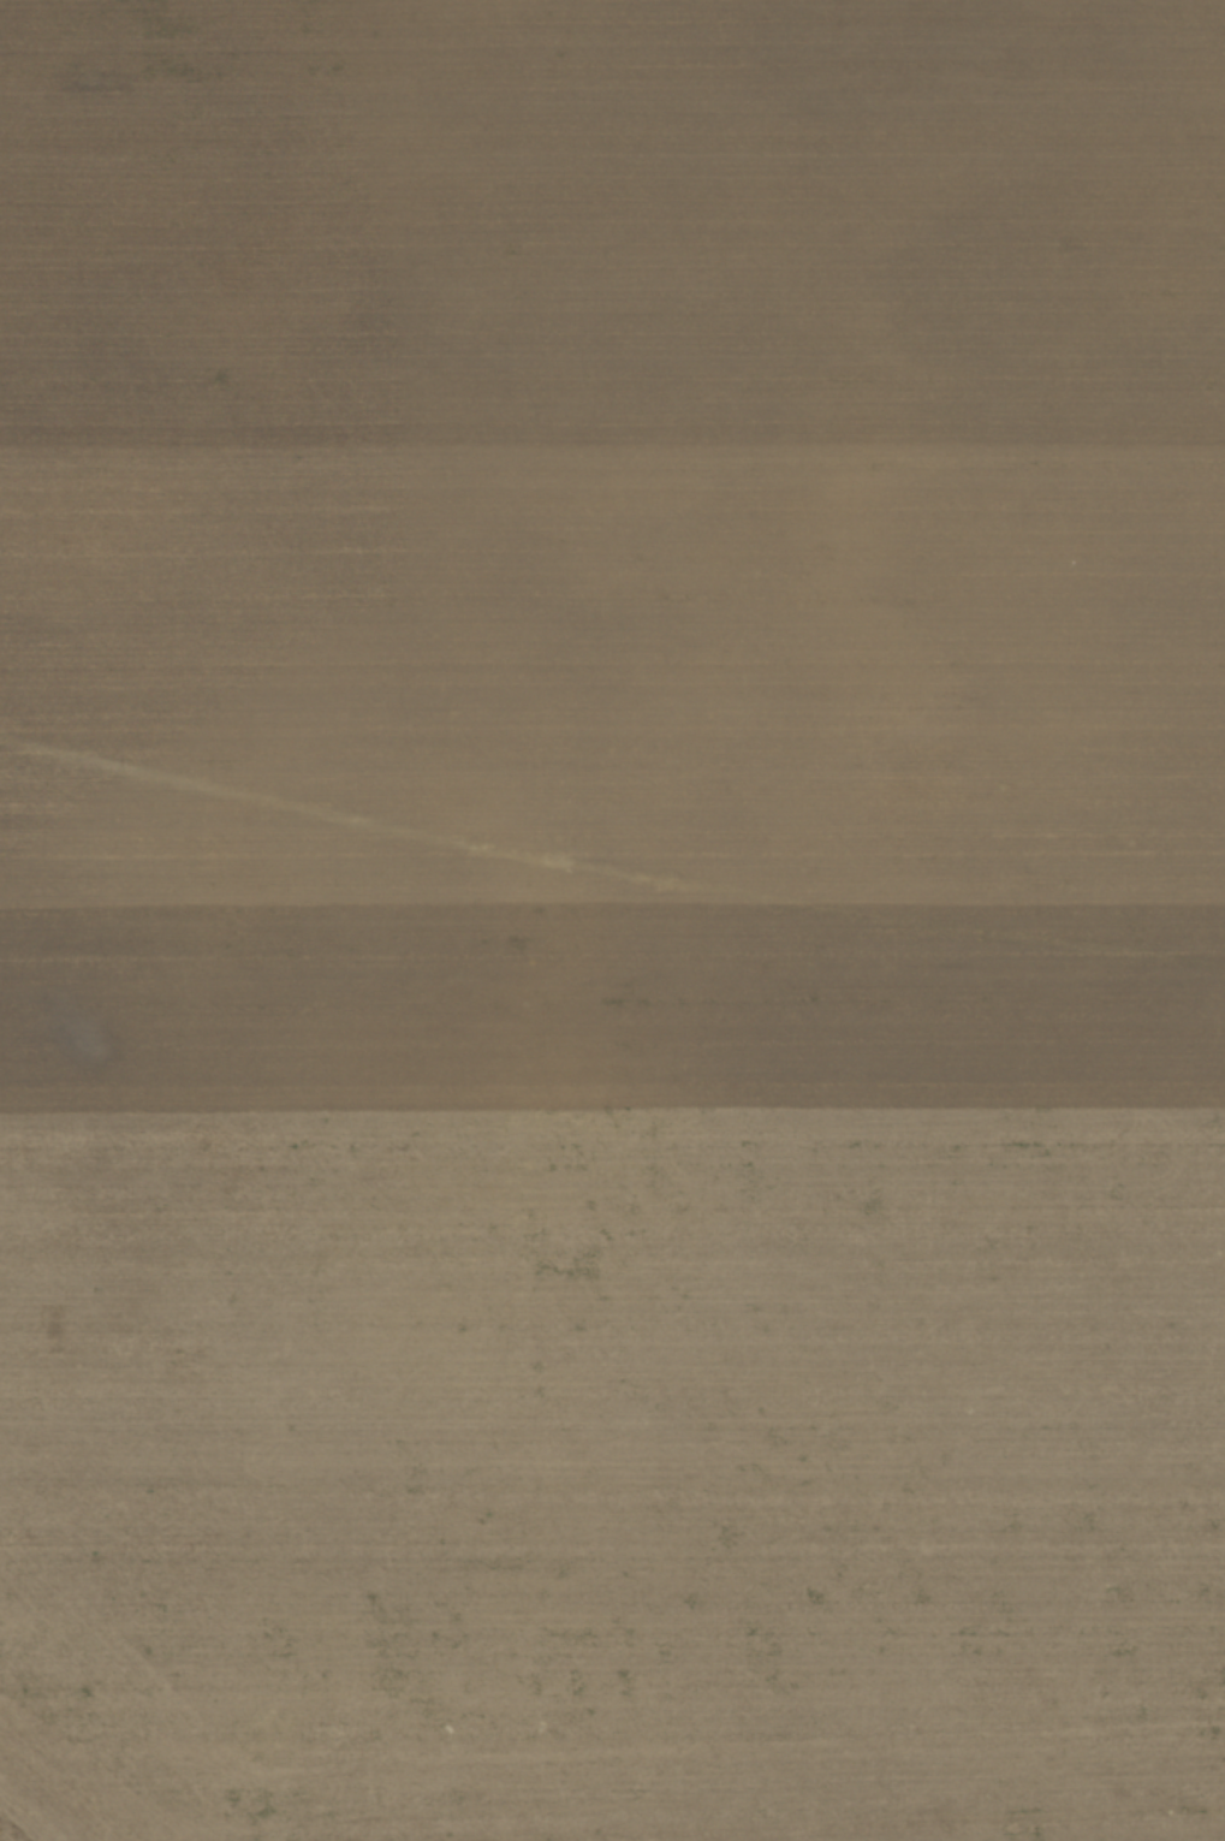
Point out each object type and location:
crop: (612, 920)

